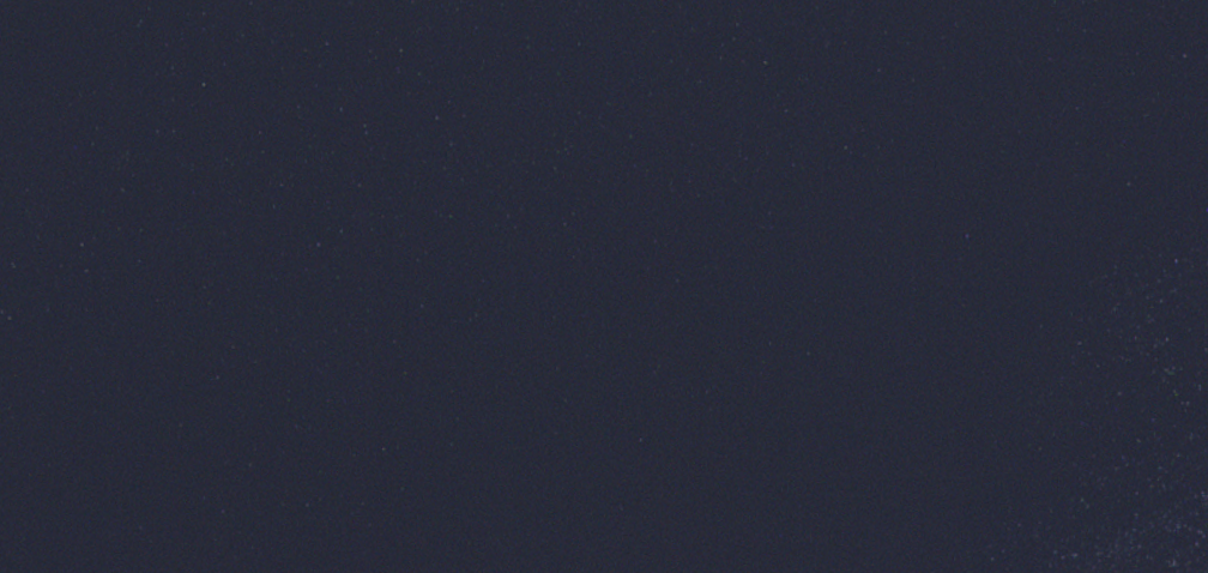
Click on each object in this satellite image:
river: (265, 186)

